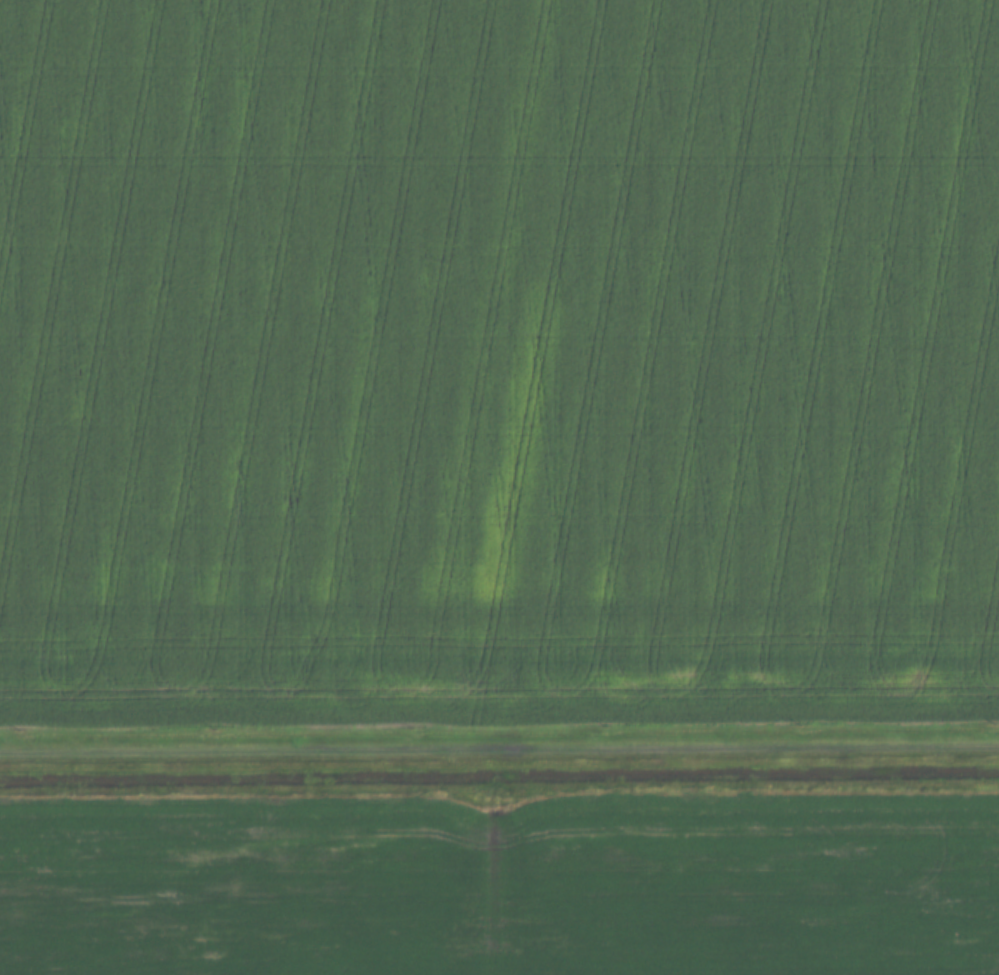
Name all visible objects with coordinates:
crop: (498, 361)
road: (499, 750)
crop: (501, 881)

